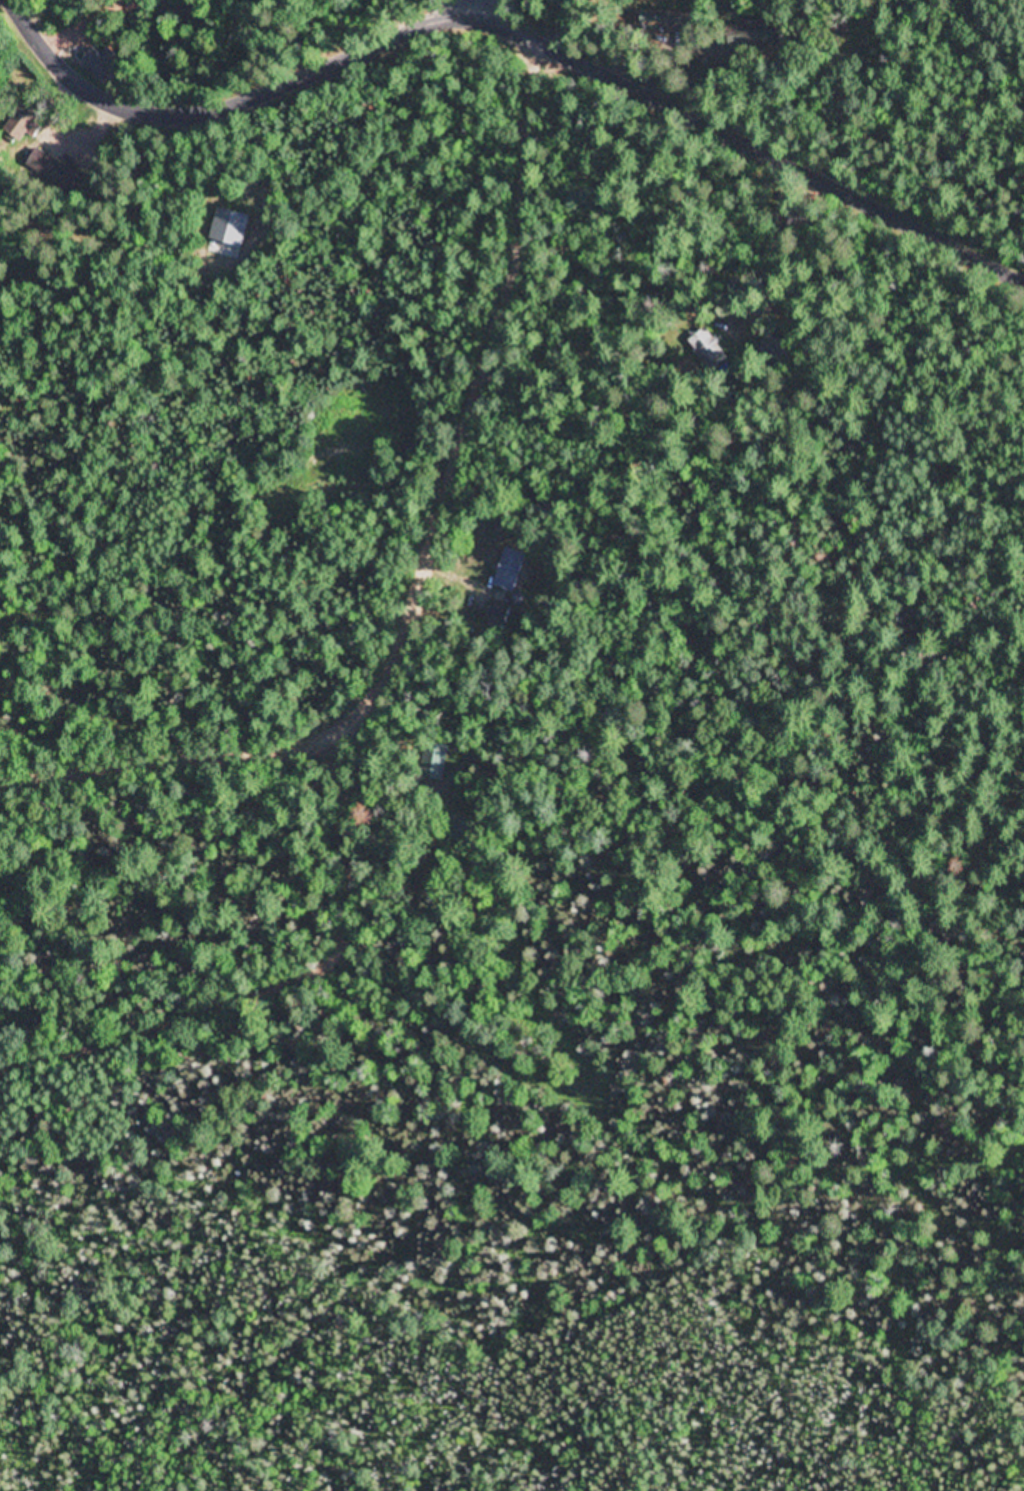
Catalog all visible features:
road: (459, 5)
road: (409, 15)
building: (665, 20)
road: (88, 22)
building: (752, 36)
building: (102, 64)
road: (215, 111)
building: (21, 124)
road: (740, 137)
building: (59, 174)
building: (231, 227)
building: (764, 350)
building: (696, 352)
road: (428, 567)
building: (509, 570)
building: (498, 614)
building: (433, 760)
road: (278, 983)

